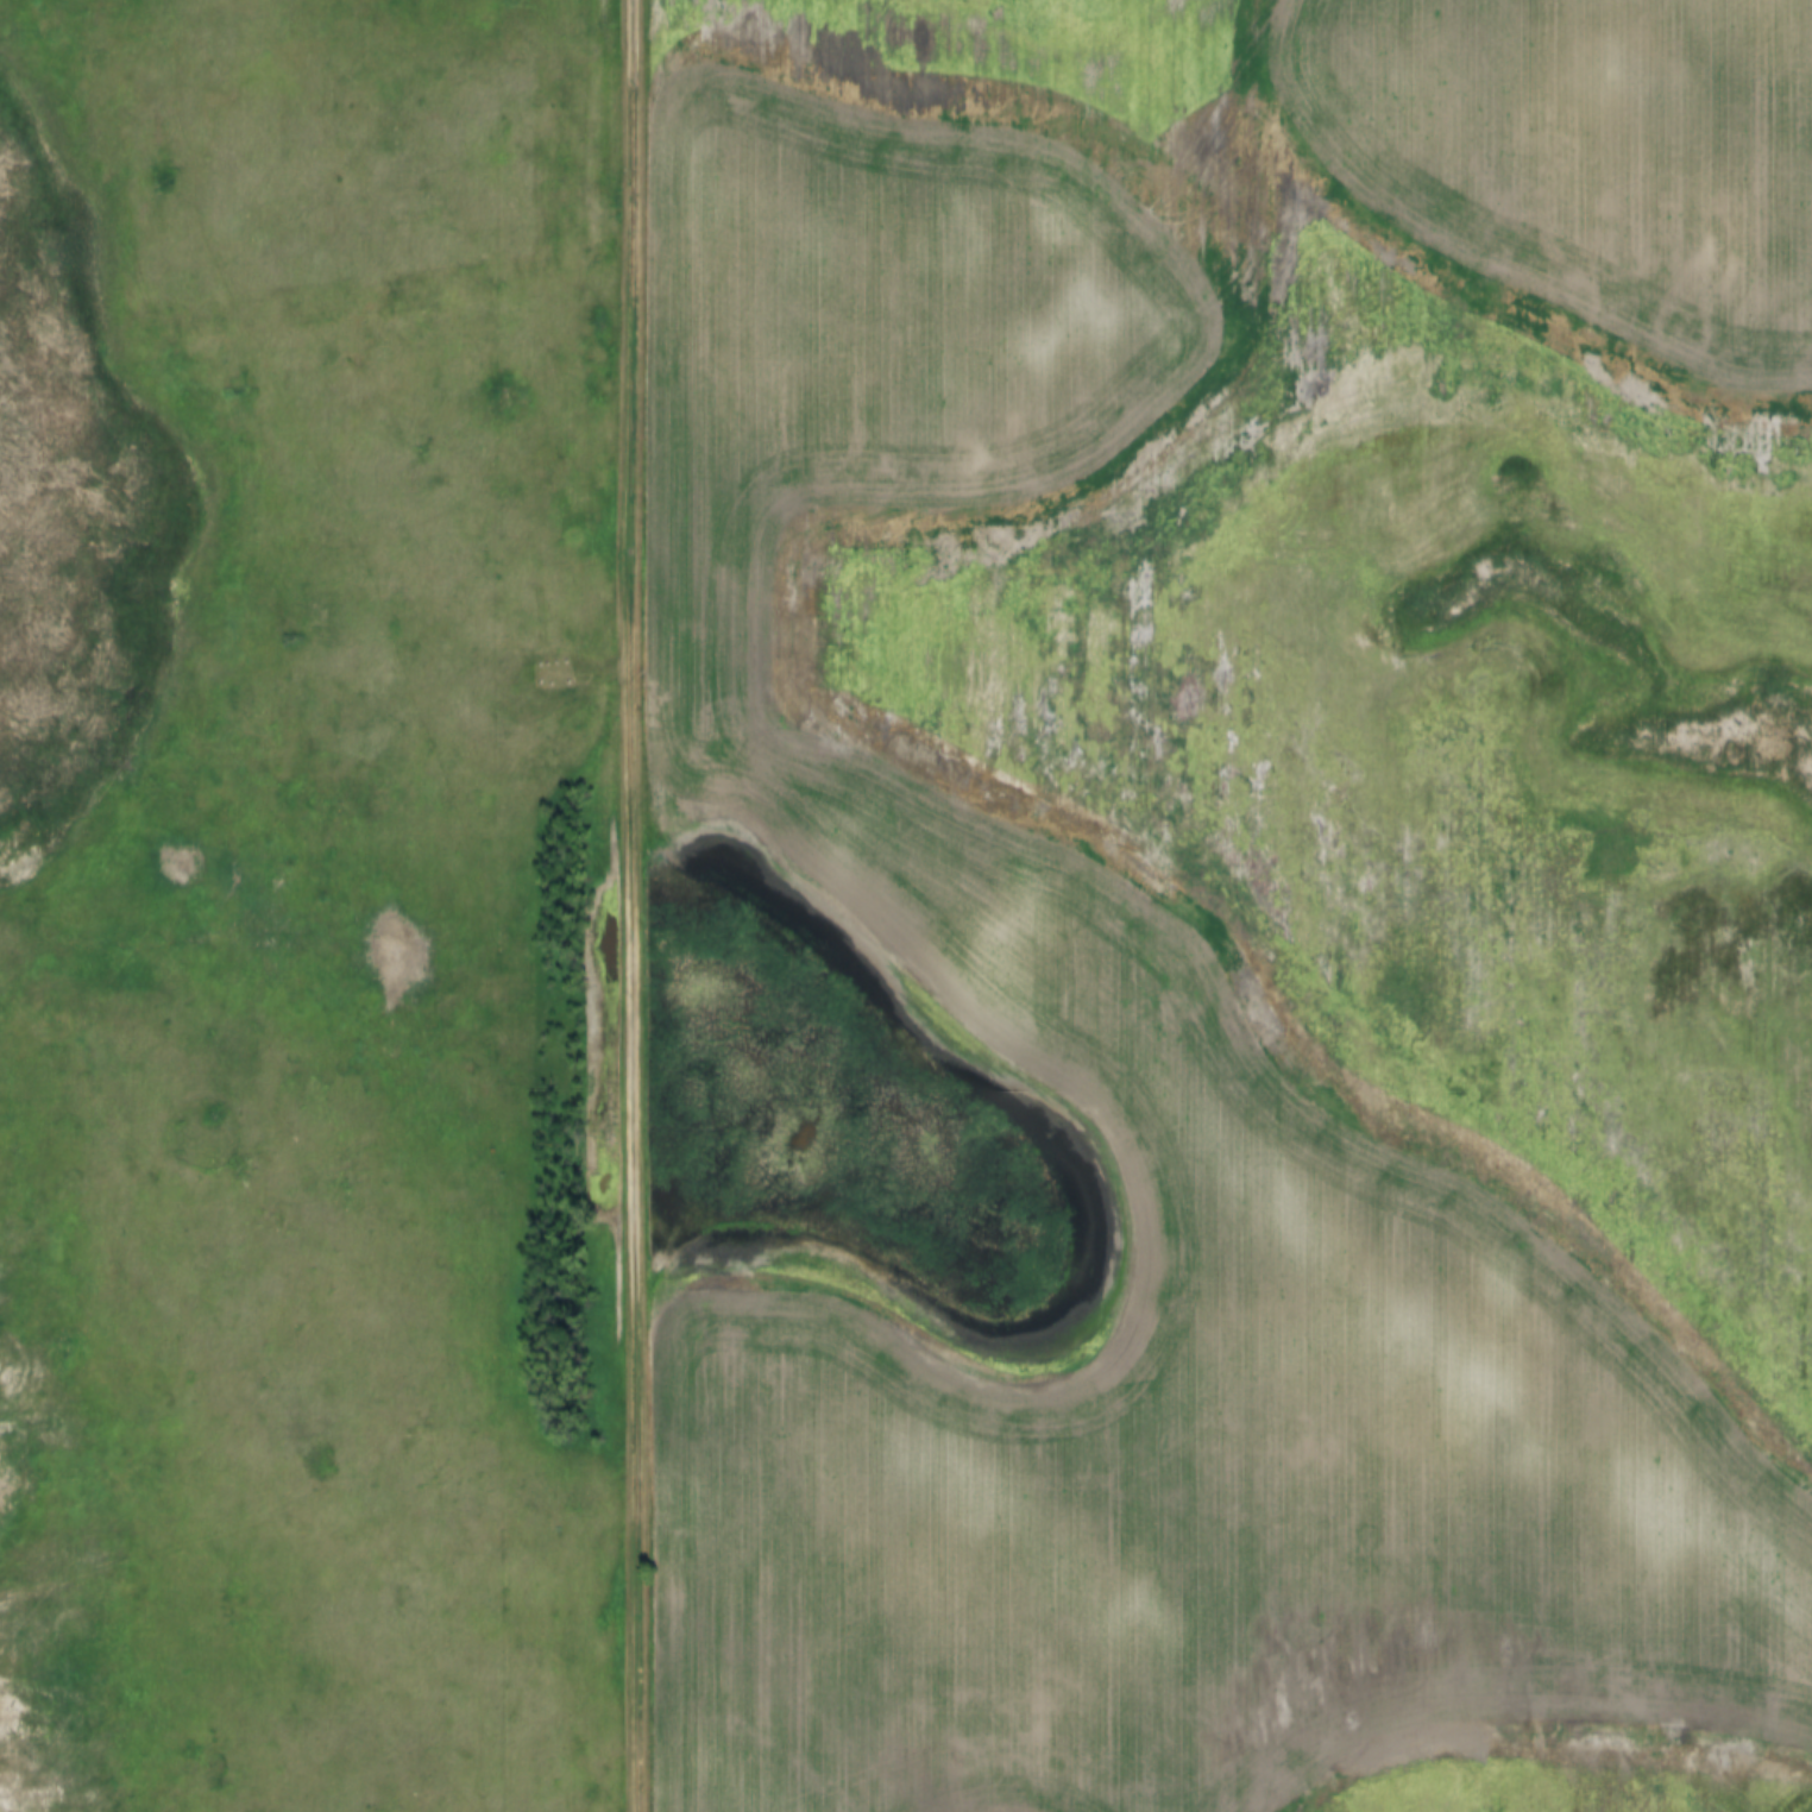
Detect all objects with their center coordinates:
road: (631, 905)

